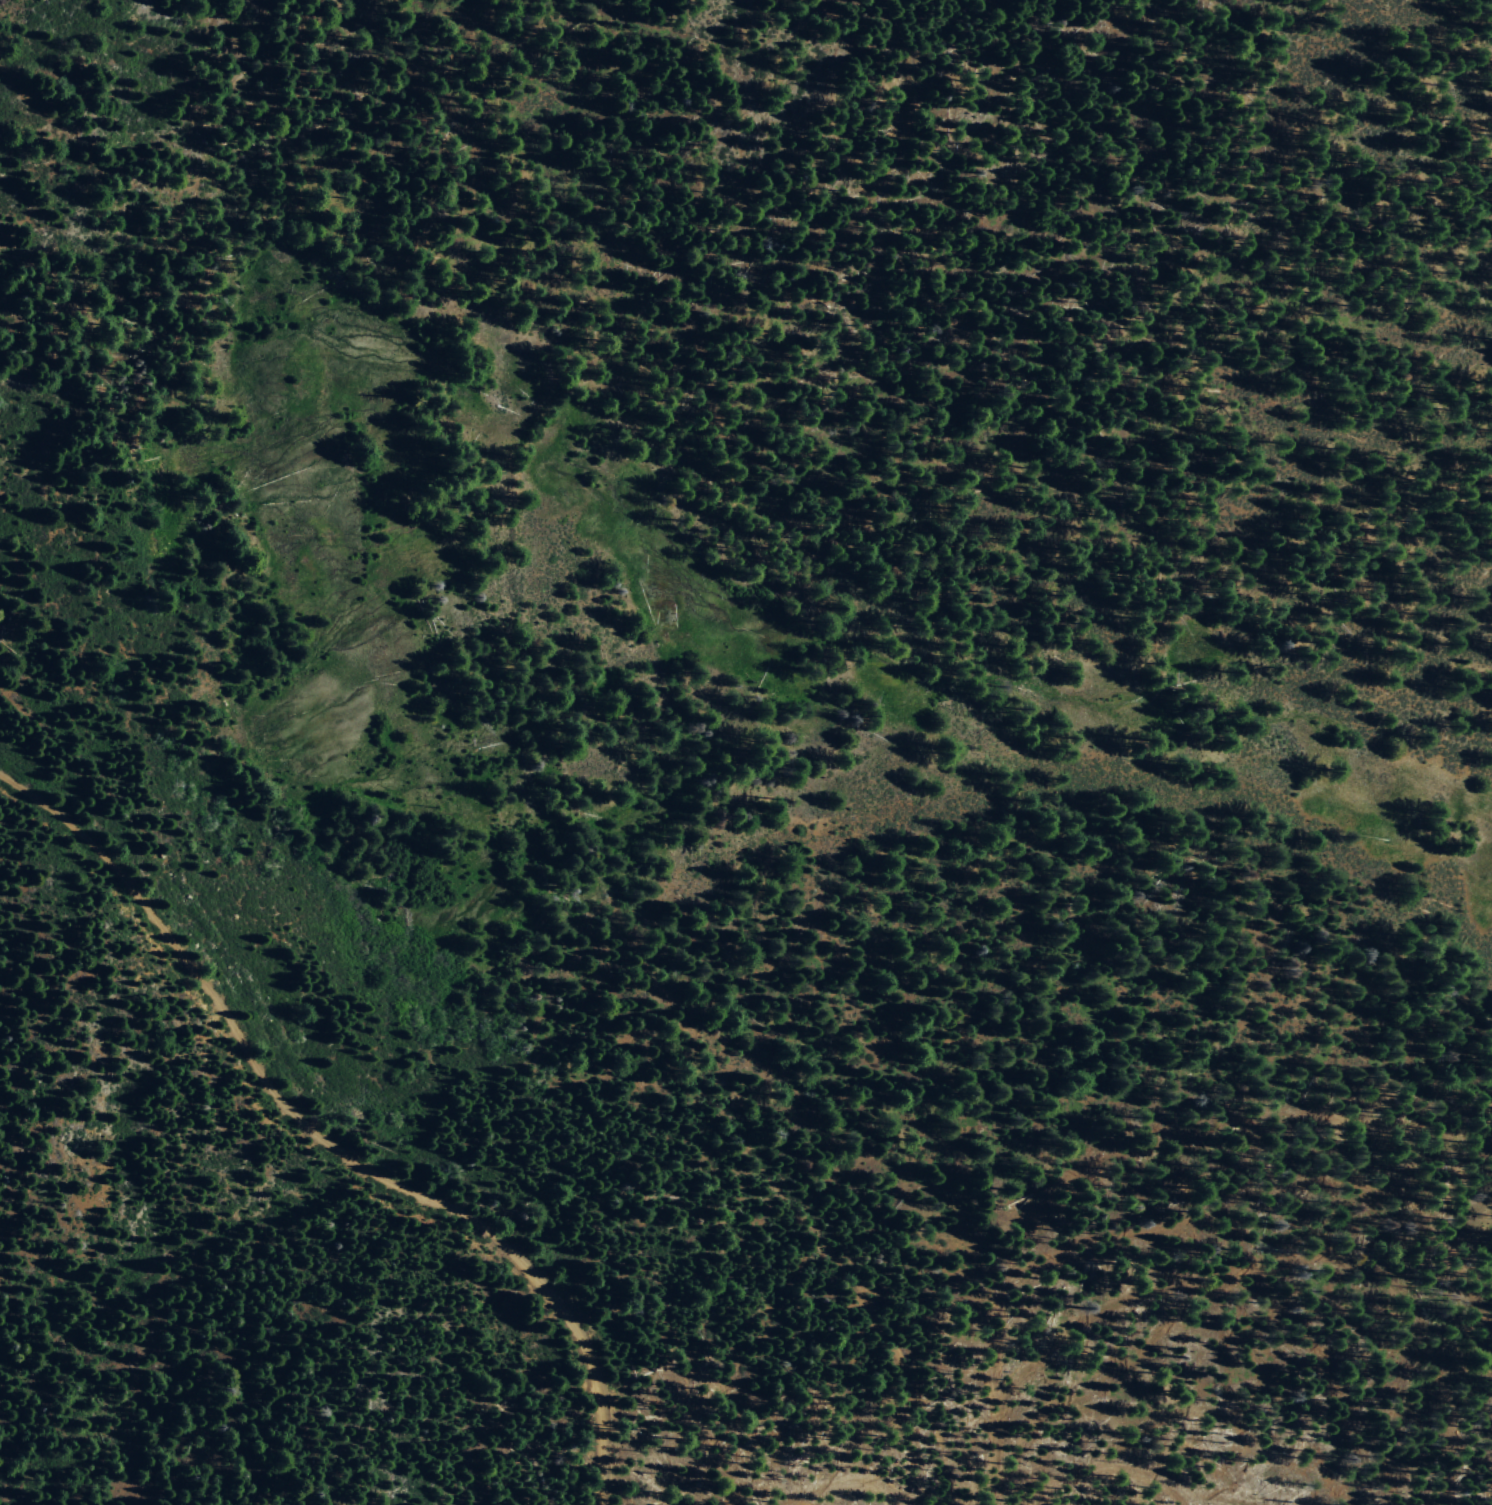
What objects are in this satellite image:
road: (326, 1146)

